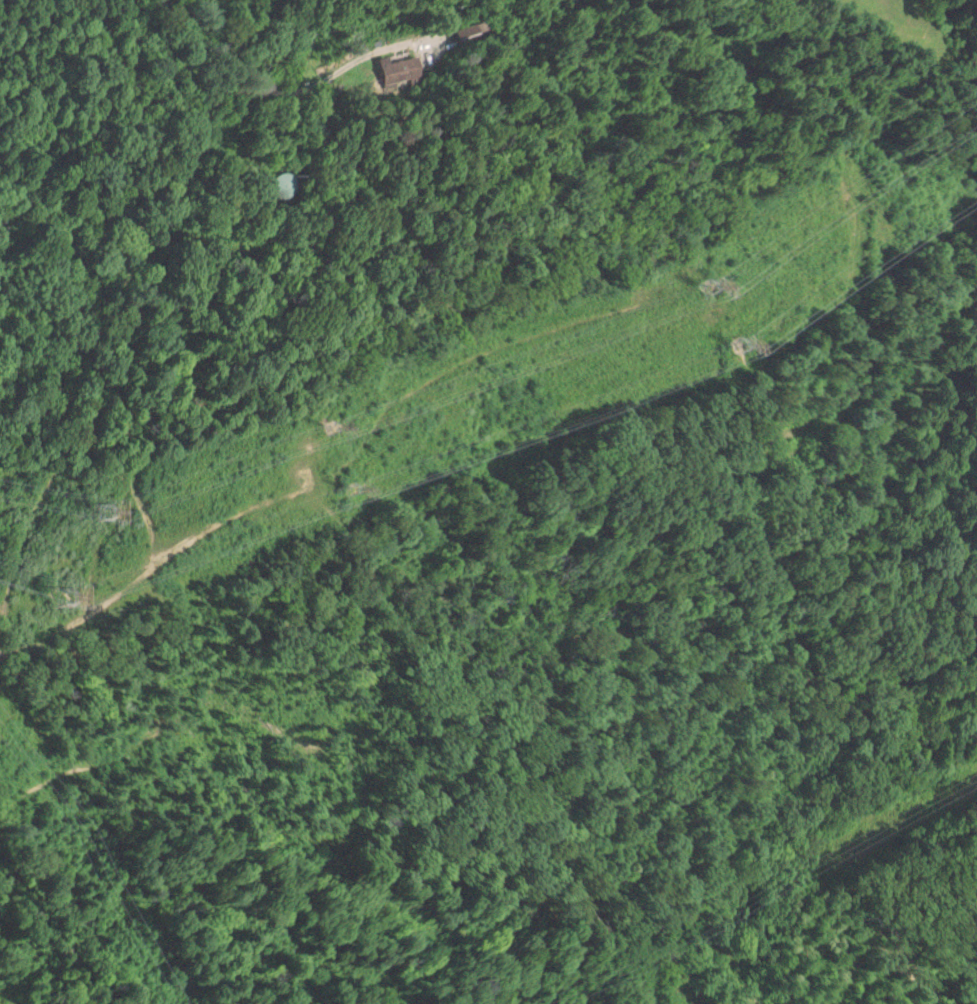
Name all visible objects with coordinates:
building: (398, 69)
building: (274, 182)
power tower: (710, 287)
power tower: (743, 348)
power tower: (334, 428)
power tower: (353, 491)
power tower: (107, 510)
power tower: (68, 602)

